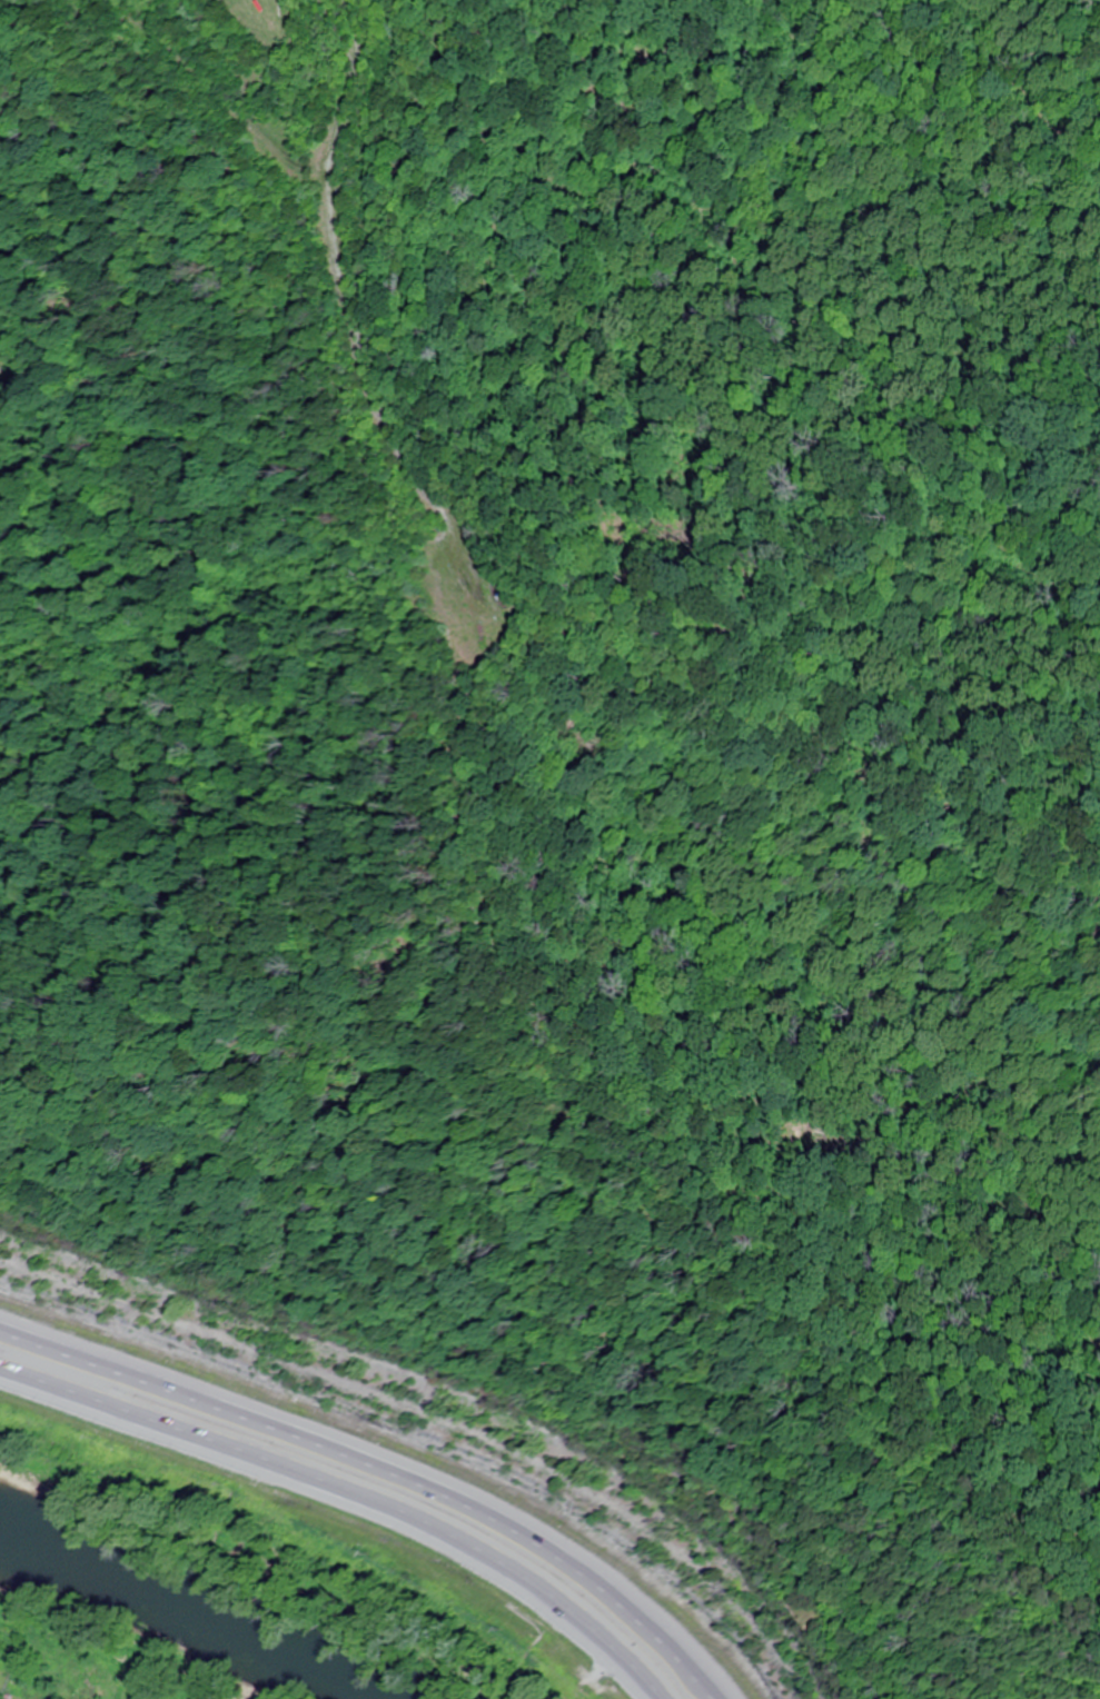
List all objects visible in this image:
road: (375, 1473)
road: (346, 1499)
river: (187, 1621)

